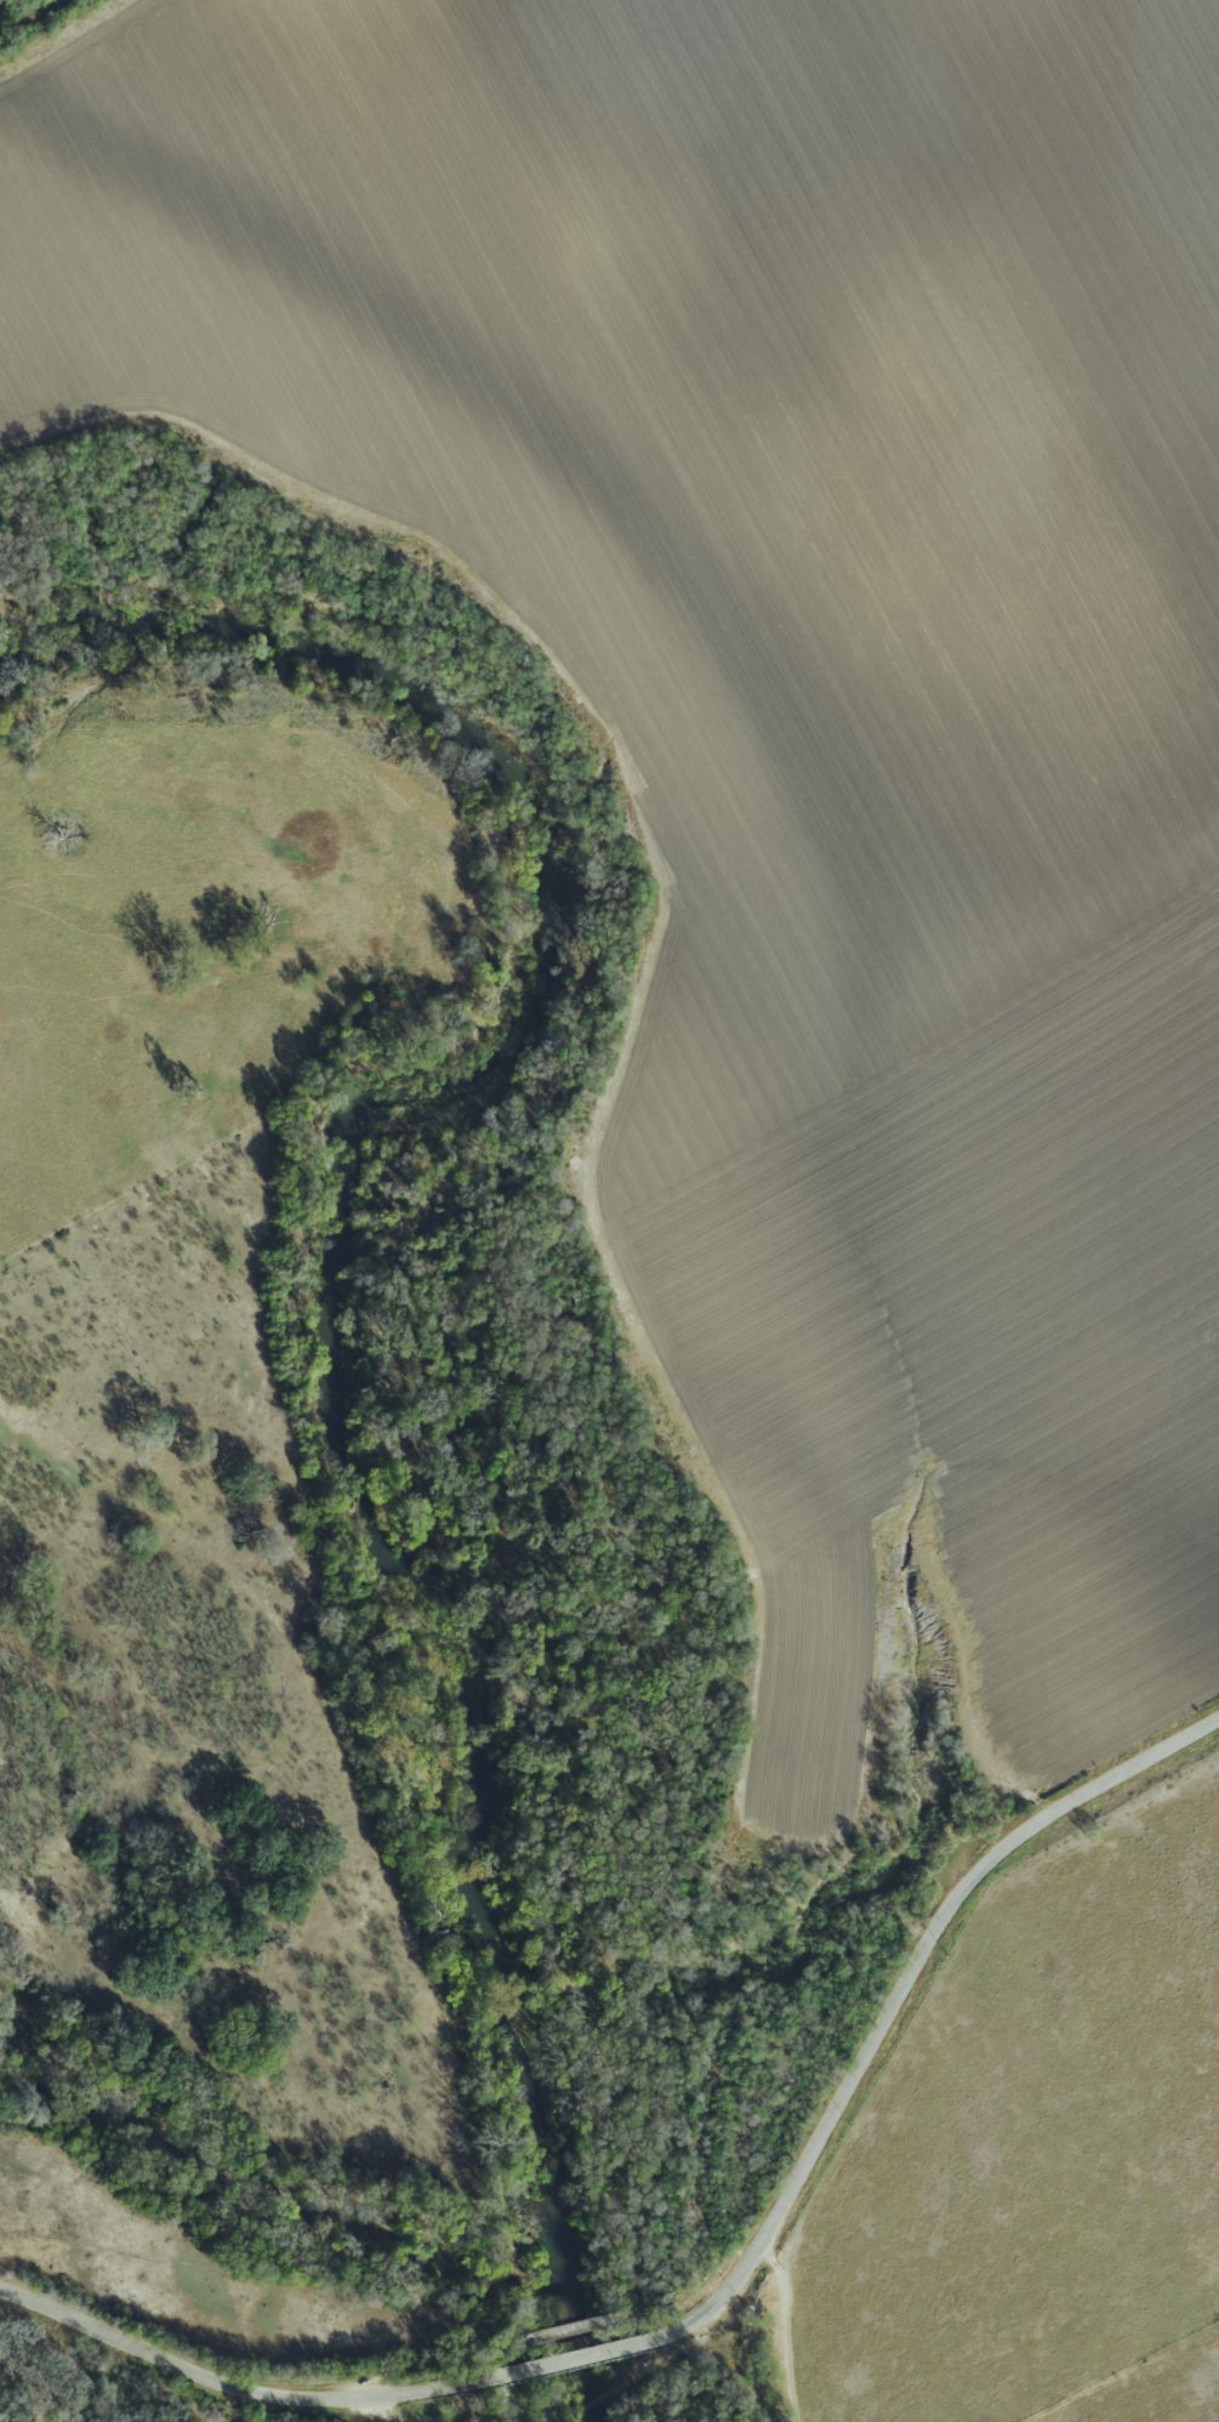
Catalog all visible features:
river: (334, 1302)
road: (893, 1997)
road: (565, 2360)
road: (237, 2388)

